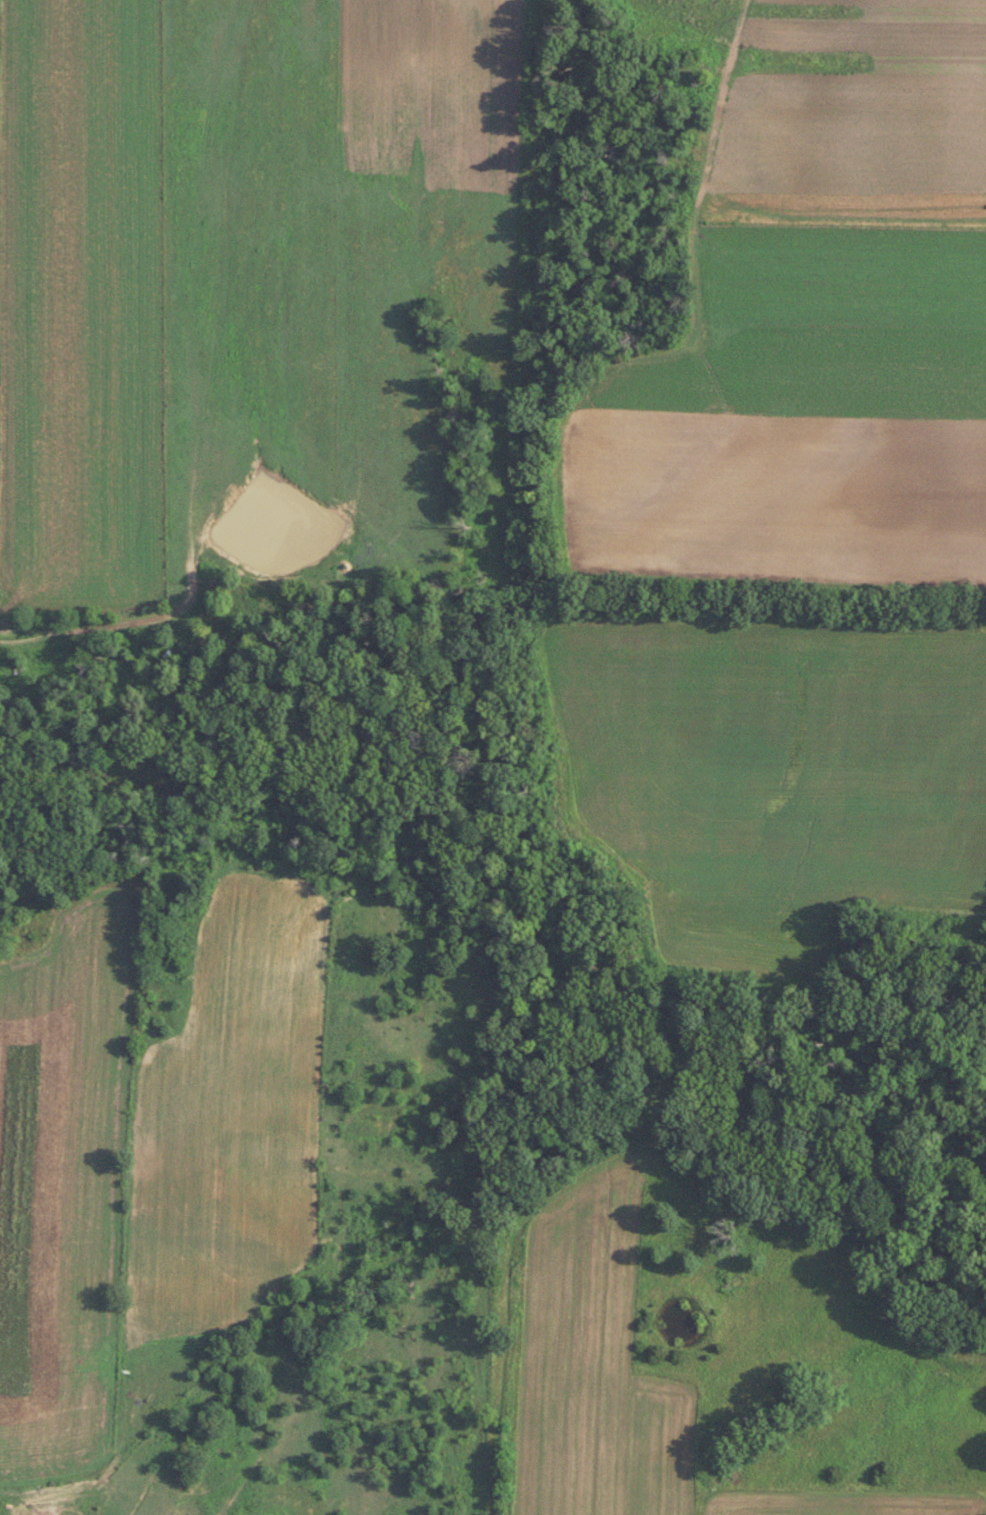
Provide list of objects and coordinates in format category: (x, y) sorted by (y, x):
road: (755, 25)
road: (506, 1292)

